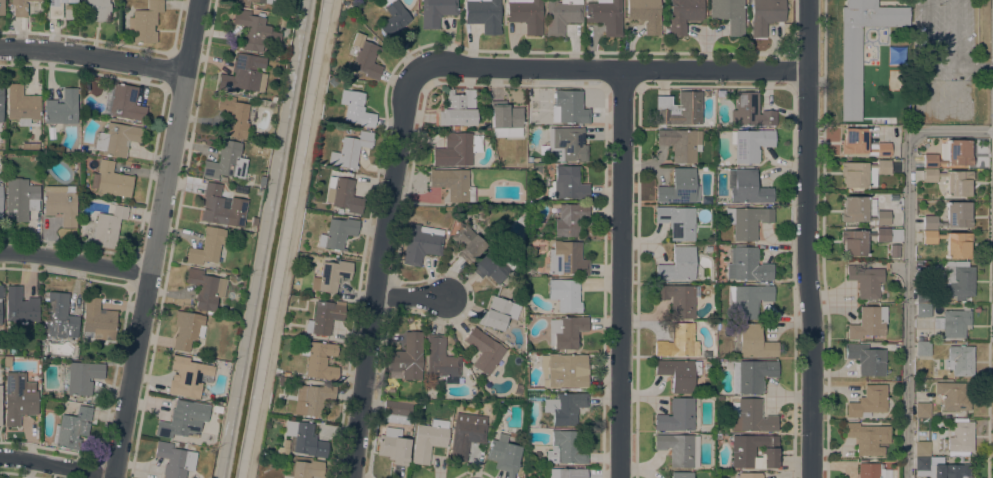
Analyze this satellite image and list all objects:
building: (241, 3)
building: (2, 7)
building: (18, 7)
building: (56, 8)
building: (96, 9)
building: (435, 12)
building: (526, 14)
building: (645, 14)
building: (729, 14)
building: (483, 15)
building: (561, 15)
building: (605, 15)
building: (683, 15)
building: (765, 15)
building: (393, 21)
building: (144, 22)
building: (253, 29)
building: (860, 47)
road: (93, 56)
building: (364, 57)
road: (612, 69)
building: (243, 74)
building: (706, 93)
building: (121, 101)
building: (1, 102)
building: (22, 106)
building: (569, 107)
building: (61, 108)
building: (355, 108)
building: (457, 108)
building: (534, 108)
building: (678, 109)
building: (750, 111)
building: (235, 115)
building: (505, 119)
building: (890, 120)
building: (116, 139)
building: (680, 143)
building: (862, 143)
building: (750, 144)
building: (34, 145)
building: (565, 145)
building: (456, 149)
building: (349, 150)
building: (950, 154)
building: (225, 161)
building: (529, 168)
building: (861, 172)
building: (222, 178)
building: (111, 180)
building: (260, 180)
building: (951, 181)
building: (567, 183)
building: (452, 184)
building: (746, 186)
building: (679, 187)
building: (341, 194)
building: (20, 199)
building: (1, 203)
building: (61, 203)
building: (215, 206)
building: (338, 211)
building: (860, 211)
building: (951, 216)
building: (569, 219)
building: (747, 221)
building: (677, 222)
building: (108, 226)
building: (336, 233)
road: (154, 238)
road: (292, 239)
road: (808, 239)
building: (865, 239)
building: (421, 243)
building: (468, 243)
building: (951, 243)
building: (206, 246)
building: (894, 250)
building: (566, 258)
road: (74, 261)
road: (907, 264)
building: (493, 265)
building: (677, 265)
building: (746, 265)
road: (379, 271)
road: (622, 274)
building: (330, 275)
building: (865, 280)
building: (958, 280)
building: (205, 288)
building: (1, 290)
building: (565, 294)
building: (922, 296)
road: (411, 297)
building: (677, 299)
building: (748, 299)
building: (20, 306)
building: (922, 310)
building: (495, 313)
building: (59, 317)
building: (323, 317)
building: (97, 321)
building: (868, 322)
building: (953, 322)
building: (187, 329)
building: (566, 331)
building: (678, 341)
building: (754, 342)
building: (922, 348)
building: (485, 351)
building: (407, 358)
building: (318, 359)
building: (441, 359)
building: (866, 359)
building: (960, 360)
building: (564, 370)
building: (678, 373)
building: (190, 375)
building: (751, 375)
building: (82, 377)
building: (952, 395)
building: (18, 397)
building: (314, 400)
building: (868, 401)
building: (0, 404)
building: (559, 405)
building: (216, 408)
building: (922, 409)
building: (396, 412)
building: (676, 416)
building: (750, 416)
building: (183, 419)
building: (72, 428)
building: (465, 434)
building: (304, 438)
building: (868, 438)
building: (960, 438)
building: (428, 439)
building: (393, 446)
building: (565, 448)
building: (922, 448)
building: (679, 449)
building: (752, 450)
building: (503, 454)
building: (174, 459)
building: (921, 463)
road: (56, 464)
building: (306, 469)
building: (869, 470)
building: (951, 471)
building: (567, 473)
building: (681, 474)
building: (749, 475)

